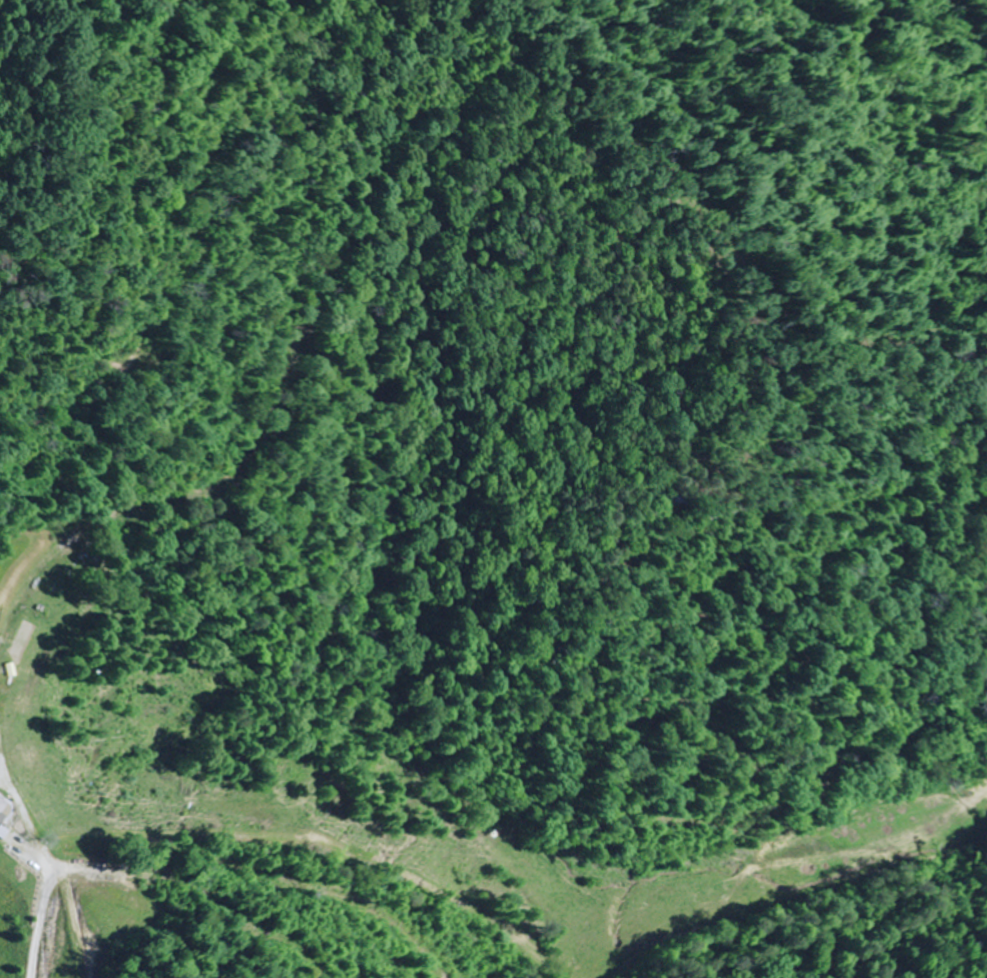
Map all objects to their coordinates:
building: (1, 805)
building: (1, 818)
road: (36, 921)
road: (91, 928)

